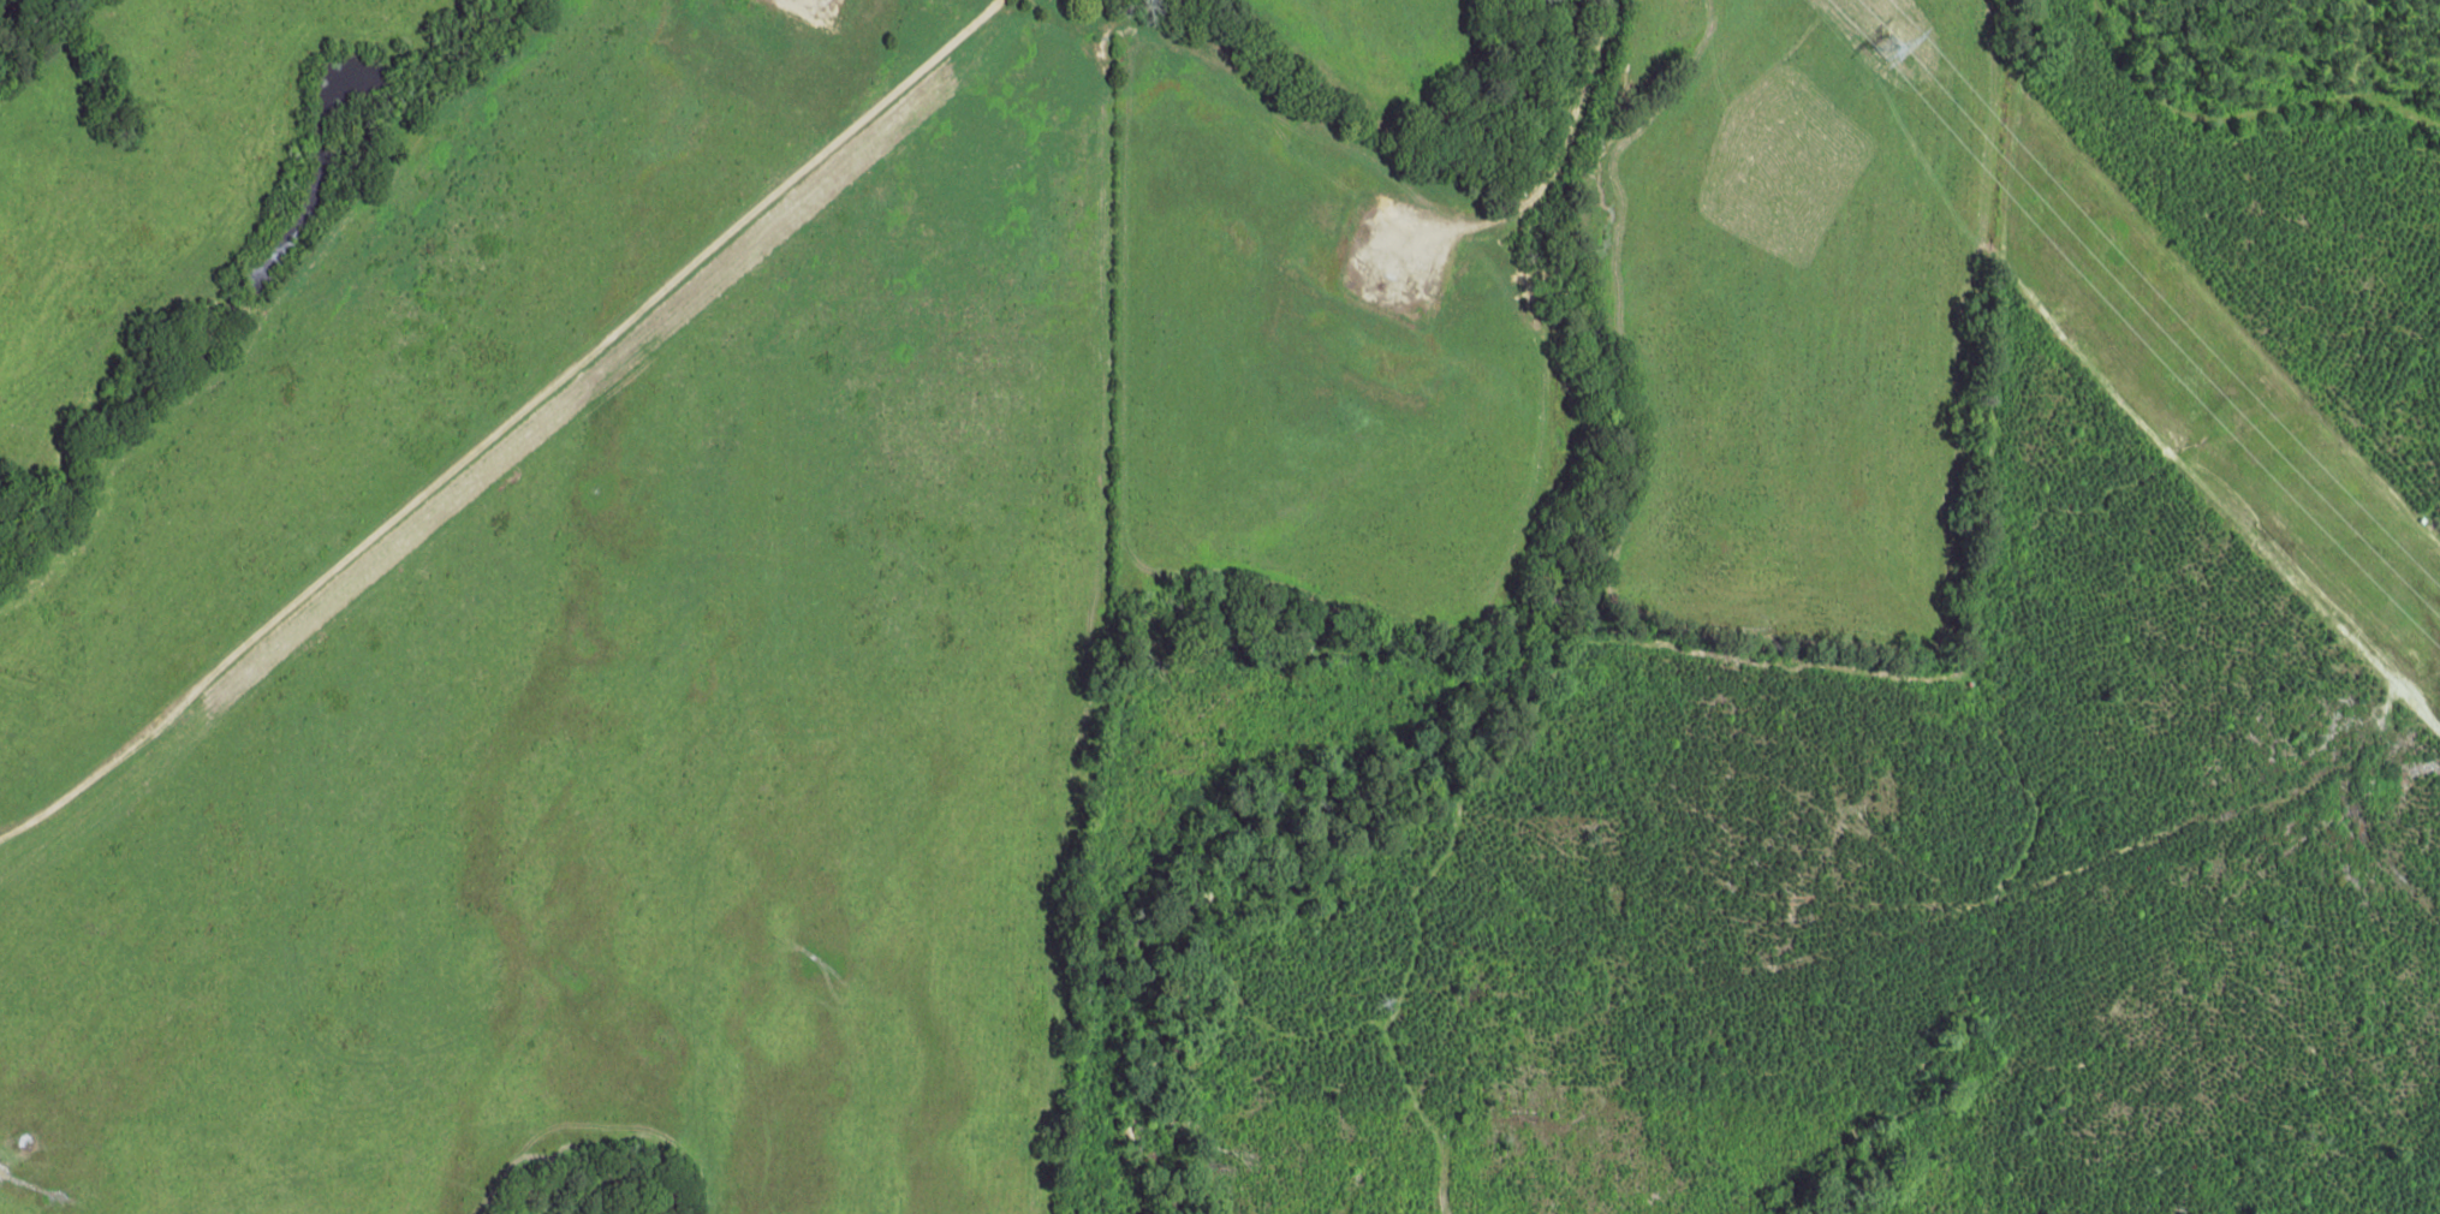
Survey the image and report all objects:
power tower: (1892, 54)

